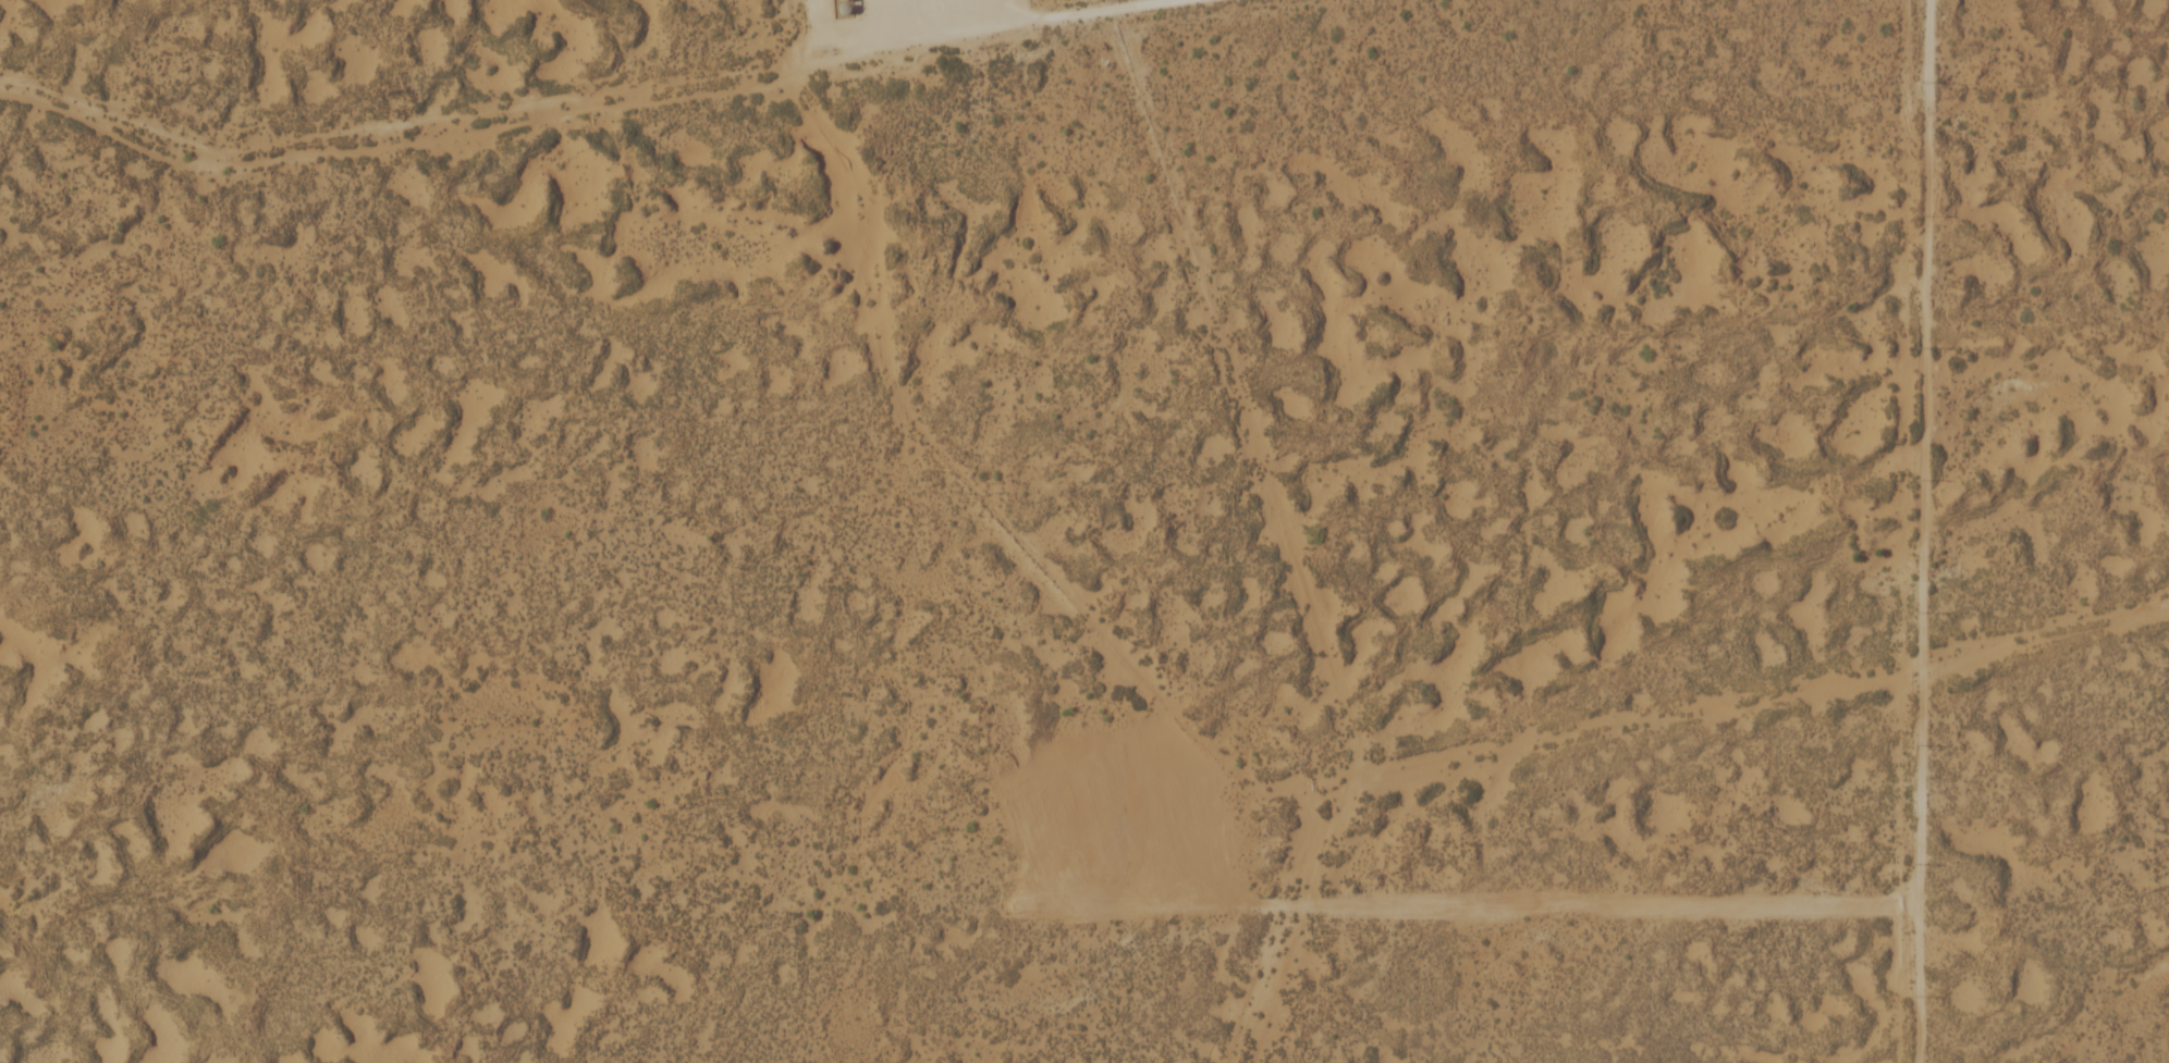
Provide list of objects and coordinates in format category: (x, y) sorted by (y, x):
road: (1013, 18)
road: (1927, 531)
road: (1573, 907)

